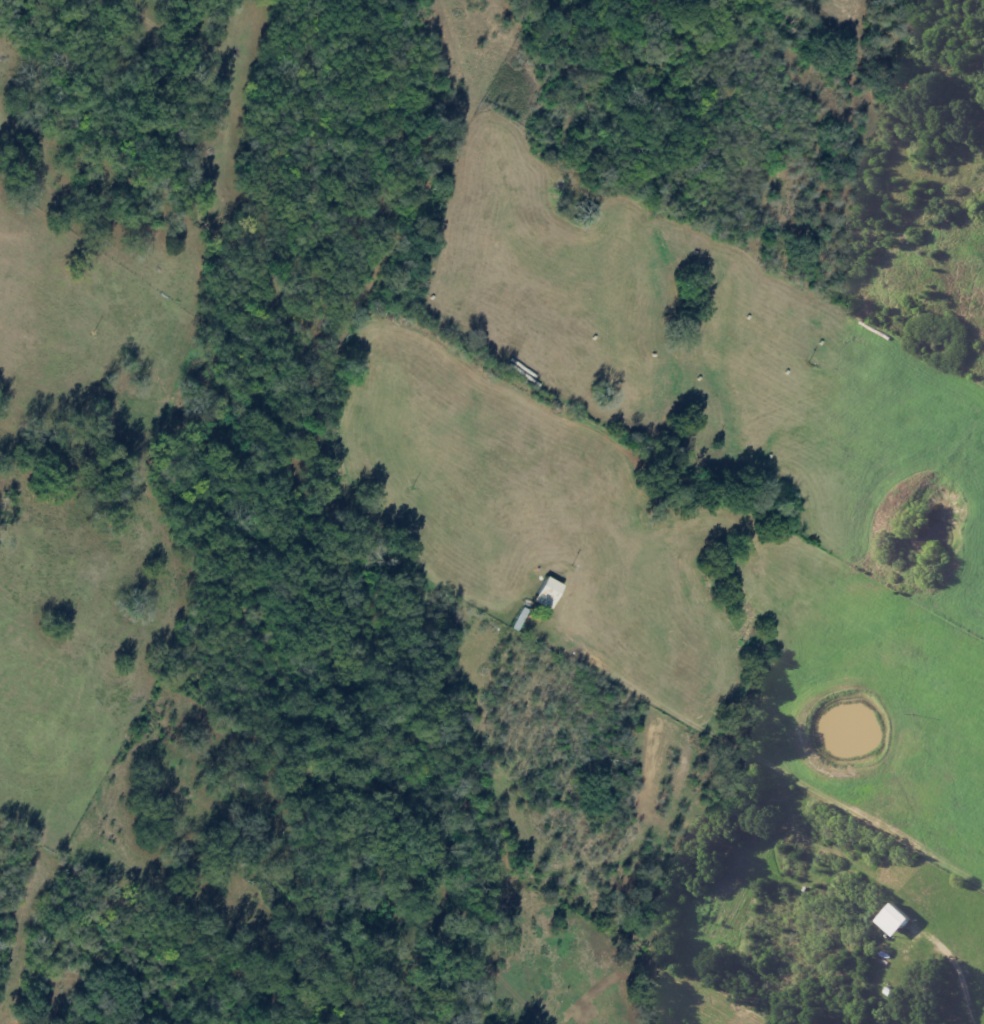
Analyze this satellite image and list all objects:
building: (549, 592)
building: (896, 919)
road: (801, 997)

